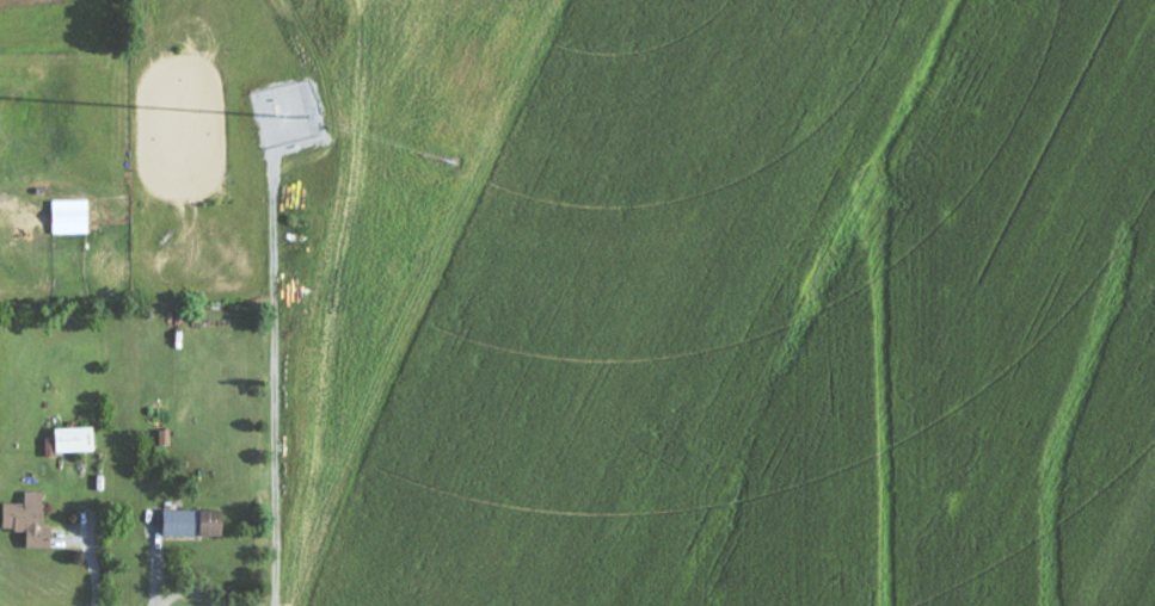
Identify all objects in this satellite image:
building: (69, 217)
building: (74, 440)
building: (27, 521)
building: (192, 524)

